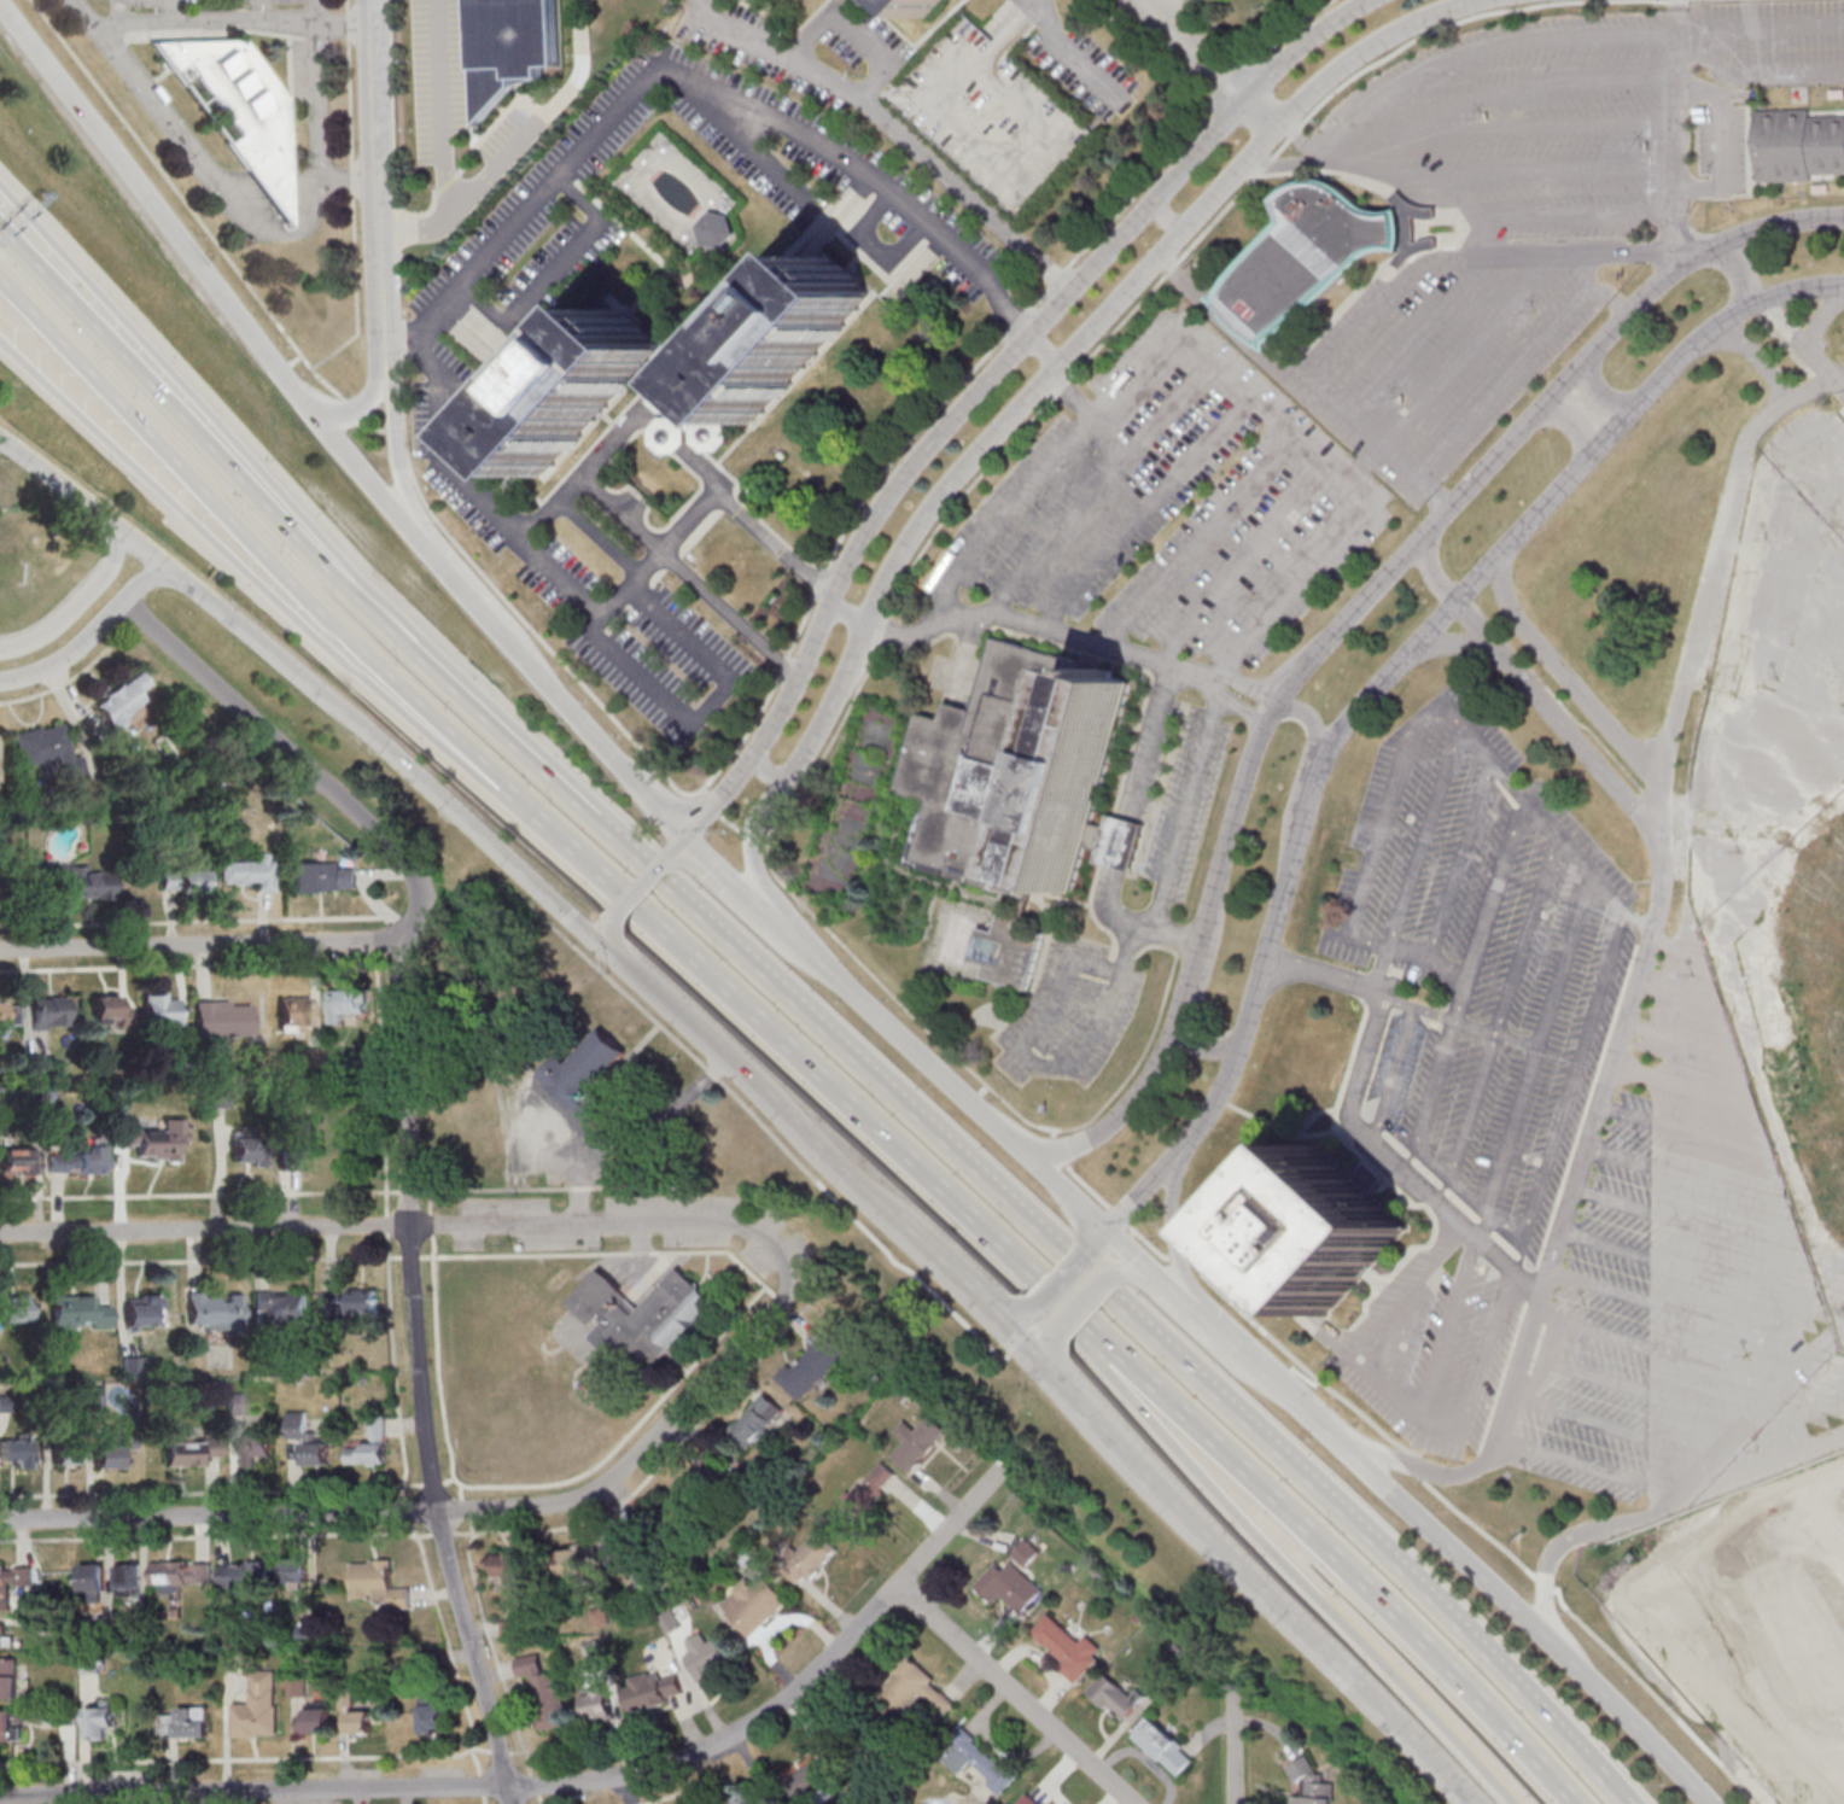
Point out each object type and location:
building: (923, 5)
road: (171, 10)
road: (1174, 11)
road: (343, 18)
road: (205, 19)
road: (857, 24)
road: (1761, 27)
building: (512, 45)
road: (1064, 47)
road: (1212, 63)
road: (704, 87)
road: (443, 109)
building: (239, 110)
road: (315, 116)
road: (897, 119)
road: (1675, 125)
road: (1720, 139)
building: (1798, 145)
road: (1306, 146)
road: (764, 160)
road: (198, 163)
road: (1315, 163)
road: (375, 168)
road: (352, 194)
road: (466, 199)
road: (1449, 199)
road: (185, 203)
road: (163, 217)
road: (1168, 222)
building: (717, 229)
road: (873, 245)
road: (1588, 255)
building: (1314, 256)
road: (554, 270)
road: (1741, 273)
road: (82, 274)
road: (1820, 315)
road: (1230, 327)
road: (399, 337)
building: (789, 337)
road: (1348, 339)
road: (1801, 339)
road: (1465, 349)
road: (1046, 350)
road: (380, 355)
road: (1756, 358)
road: (296, 361)
road: (285, 368)
road: (1515, 368)
road: (986, 380)
road: (1839, 383)
road: (1817, 385)
road: (1041, 389)
building: (580, 390)
road: (1599, 391)
road: (361, 410)
building: (684, 420)
road: (1577, 422)
road: (618, 433)
road: (392, 444)
road: (1400, 459)
road: (362, 474)
road: (1358, 490)
road: (1162, 491)
road: (117, 527)
road: (298, 529)
road: (247, 530)
road: (597, 535)
road: (113, 561)
road: (245, 561)
road: (1435, 574)
road: (142, 579)
road: (383, 594)
road: (1703, 599)
road: (595, 600)
road: (474, 607)
road: (726, 611)
road: (850, 613)
road: (1347, 624)
road: (53, 626)
road: (1070, 638)
road: (1454, 641)
road: (1417, 647)
road: (69, 652)
road: (1564, 672)
building: (124, 701)
road: (704, 707)
road: (1423, 707)
road: (1554, 713)
building: (51, 751)
road: (622, 763)
building: (1021, 769)
road: (766, 770)
road: (414, 776)
road: (1299, 780)
road: (1133, 807)
road: (1185, 807)
traffic signals: (690, 831)
road: (679, 843)
road: (728, 869)
building: (250, 871)
building: (325, 876)
building: (185, 878)
building: (84, 881)
road: (640, 888)
road: (782, 923)
road: (601, 929)
traffic signals: (594, 938)
road: (197, 945)
building: (1009, 951)
road: (1566, 963)
road: (1125, 964)
building: (345, 1003)
building: (110, 1009)
building: (162, 1010)
building: (49, 1012)
building: (296, 1014)
building: (8, 1015)
road: (1025, 1016)
building: (224, 1017)
road: (751, 1022)
road: (1540, 1044)
road: (909, 1045)
building: (584, 1068)
road: (747, 1075)
road: (1431, 1093)
building: (220, 1097)
road: (1467, 1115)
road: (1362, 1133)
building: (304, 1134)
building: (154, 1140)
road: (403, 1142)
road: (1587, 1142)
building: (249, 1149)
building: (18, 1161)
building: (77, 1161)
road: (1066, 1190)
road: (1144, 1193)
road: (407, 1225)
building: (1321, 1227)
traffic signals: (1110, 1232)
road: (1103, 1239)
road: (1175, 1240)
road: (1131, 1253)
road: (943, 1268)
road: (1134, 1271)
road: (1061, 1283)
road: (1412, 1289)
road: (1178, 1297)
road: (1046, 1300)
building: (348, 1304)
road: (1084, 1304)
building: (280, 1307)
building: (13, 1309)
building: (216, 1309)
road: (1116, 1309)
building: (142, 1312)
building: (80, 1313)
building: (641, 1315)
traffic signals: (992, 1318)
road: (1009, 1318)
road: (1207, 1325)
road: (1448, 1327)
road: (1222, 1341)
traffic signals: (1017, 1343)
road: (1019, 1345)
road: (1049, 1358)
building: (812, 1366)
road: (1110, 1376)
road: (1286, 1401)
building: (235, 1403)
building: (757, 1419)
road: (1465, 1420)
road: (1612, 1430)
building: (307, 1440)
building: (917, 1441)
building: (368, 1446)
building: (256, 1447)
building: (13, 1452)
building: (66, 1452)
building: (192, 1452)
building: (111, 1453)
road: (1414, 1467)
road: (1589, 1467)
building: (698, 1490)
building: (869, 1490)
road: (1680, 1499)
road: (445, 1510)
building: (620, 1549)
building: (1027, 1552)
building: (812, 1555)
building: (571, 1561)
road: (1336, 1561)
building: (509, 1567)
building: (296, 1572)
building: (182, 1574)
building: (243, 1574)
building: (129, 1576)
building: (13, 1582)
building: (93, 1582)
building: (379, 1582)
building: (1009, 1586)
road: (1257, 1588)
building: (753, 1605)
road: (1326, 1609)
road: (1529, 1623)
building: (6, 1635)
building: (1069, 1647)
building: (708, 1657)
building: (8, 1677)
building: (297, 1688)
building: (914, 1689)
building: (545, 1691)
building: (654, 1691)
road: (1014, 1694)
building: (1115, 1697)
building: (599, 1704)
building: (257, 1706)
building: (431, 1715)
building: (317, 1717)
building: (101, 1718)
building: (185, 1722)
building: (361, 1722)
building: (8, 1724)
building: (1163, 1746)
road: (1232, 1748)
building: (975, 1759)
building: (816, 1781)
road: (560, 1782)
building: (1311, 1785)
building: (746, 1798)
building: (1029, 1799)
building: (776, 1803)

